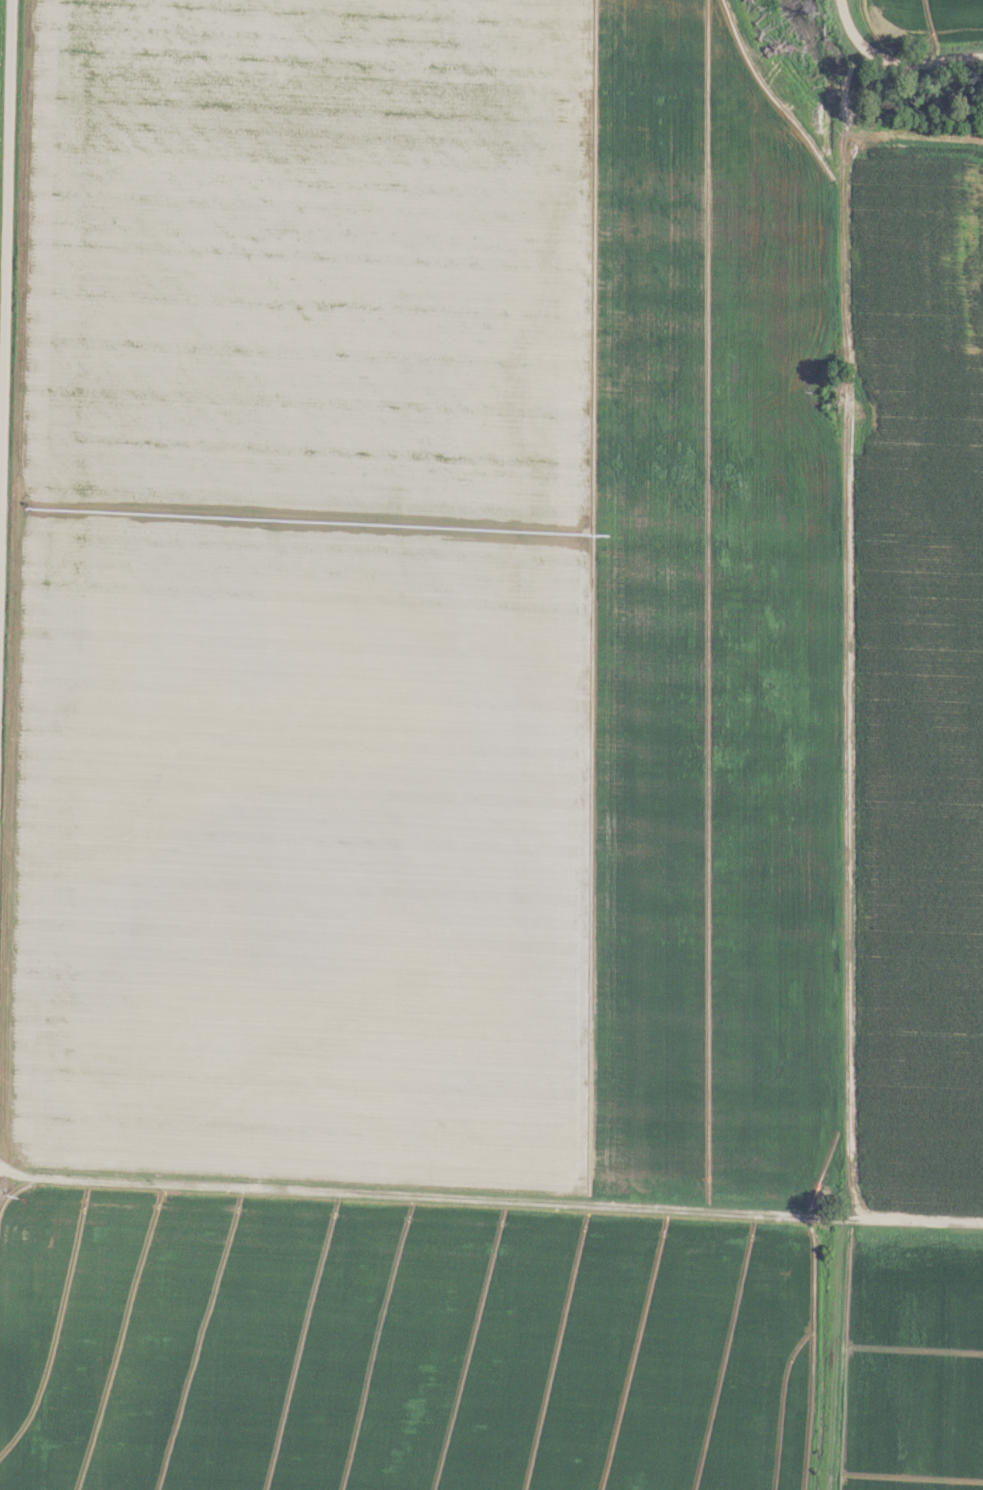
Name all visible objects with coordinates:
road: (894, 59)
road: (5, 249)

